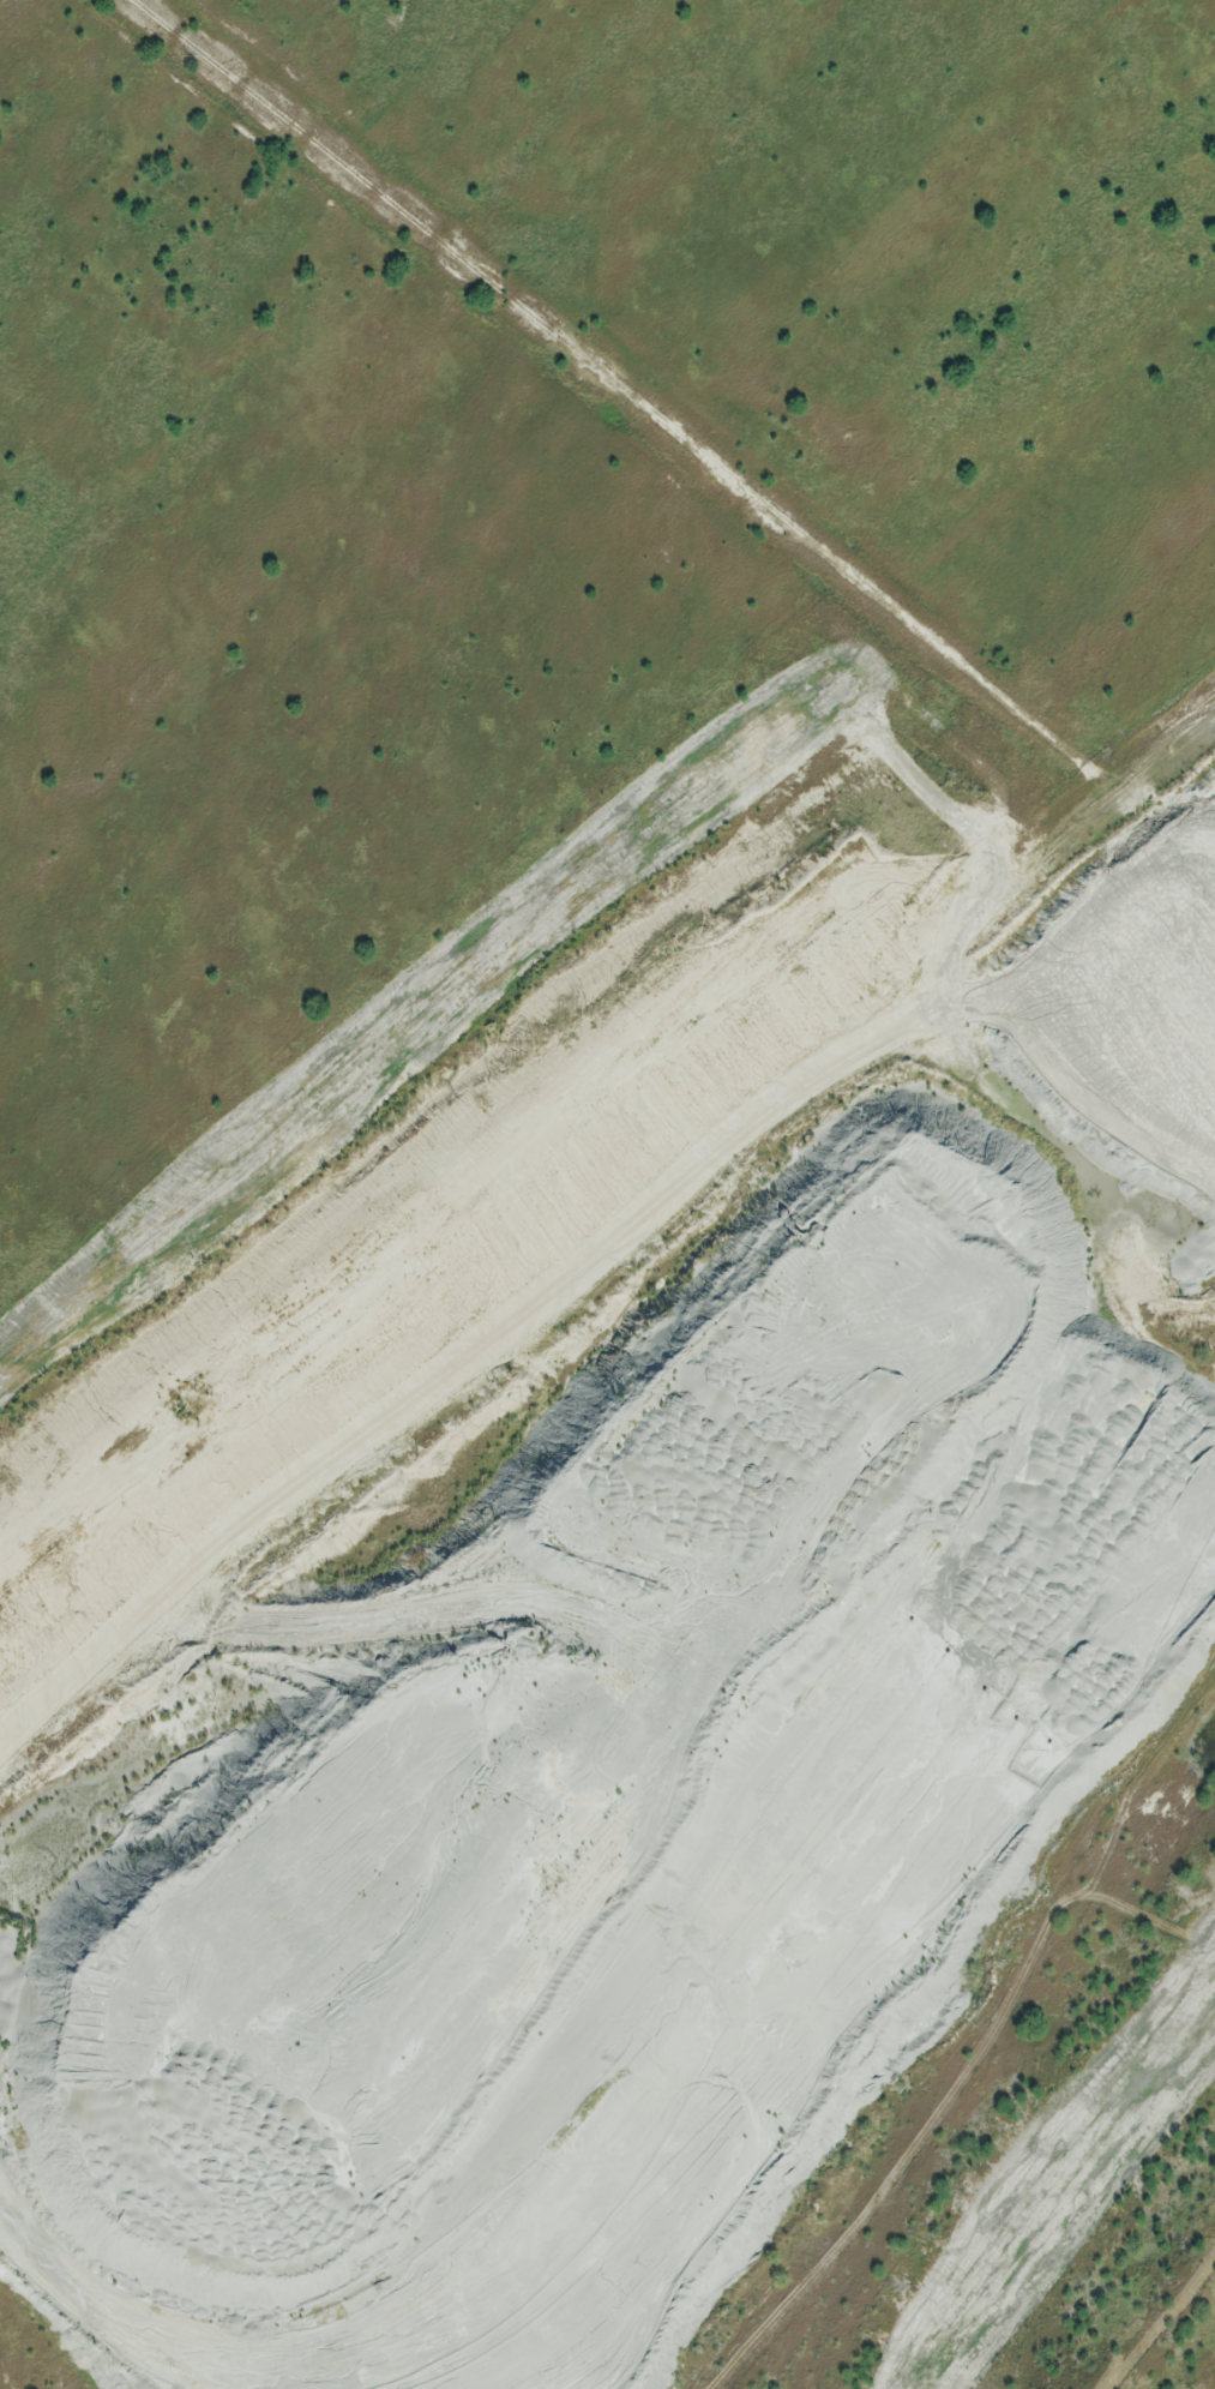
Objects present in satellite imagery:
quarry: (596, 1170)

